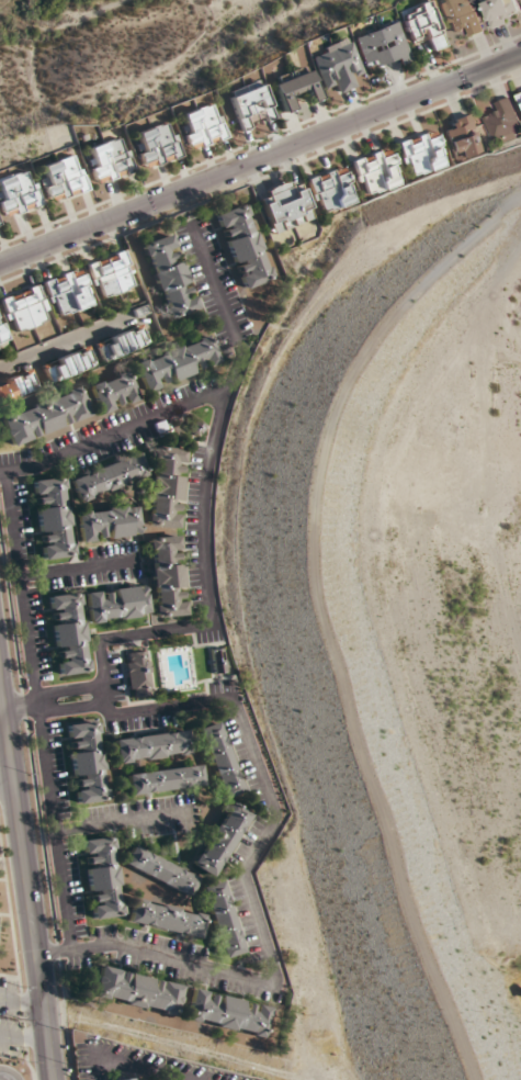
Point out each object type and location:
building: (520, 1)
building: (496, 12)
building: (460, 16)
building: (422, 25)
building: (381, 45)
building: (337, 65)
building: (292, 88)
building: (519, 98)
building: (249, 105)
building: (501, 122)
building: (200, 126)
building: (462, 137)
building: (154, 145)
building: (422, 153)
road: (260, 159)
building: (106, 160)
building: (376, 171)
building: (60, 179)
building: (330, 190)
building: (16, 194)
building: (284, 209)
building: (242, 246)
building: (110, 275)
building: (167, 277)
building: (67, 292)
building: (24, 310)
building: (2, 336)
road: (83, 336)
building: (121, 344)
building: (175, 363)
building: (68, 364)
building: (111, 392)
building: (43, 415)
road: (112, 436)
building: (105, 477)
building: (163, 487)
building: (52, 519)
building: (106, 522)
road: (75, 567)
building: (165, 576)
building: (114, 605)
dam: (310, 606)
building: (68, 634)
building: (136, 675)
road: (68, 689)
road: (19, 707)
road: (70, 709)
road: (139, 710)
road: (34, 711)
road: (5, 730)
building: (149, 746)
building: (218, 761)
building: (84, 762)
road: (7, 775)
building: (162, 780)
road: (121, 823)
building: (219, 840)
building: (159, 870)
building: (101, 878)
building: (166, 919)
building: (220, 920)
road: (33, 927)
building: (135, 991)
road: (22, 1001)
building: (225, 1013)
road: (24, 1039)
road: (127, 1065)
road: (8, 1073)
building: (124, 1079)

